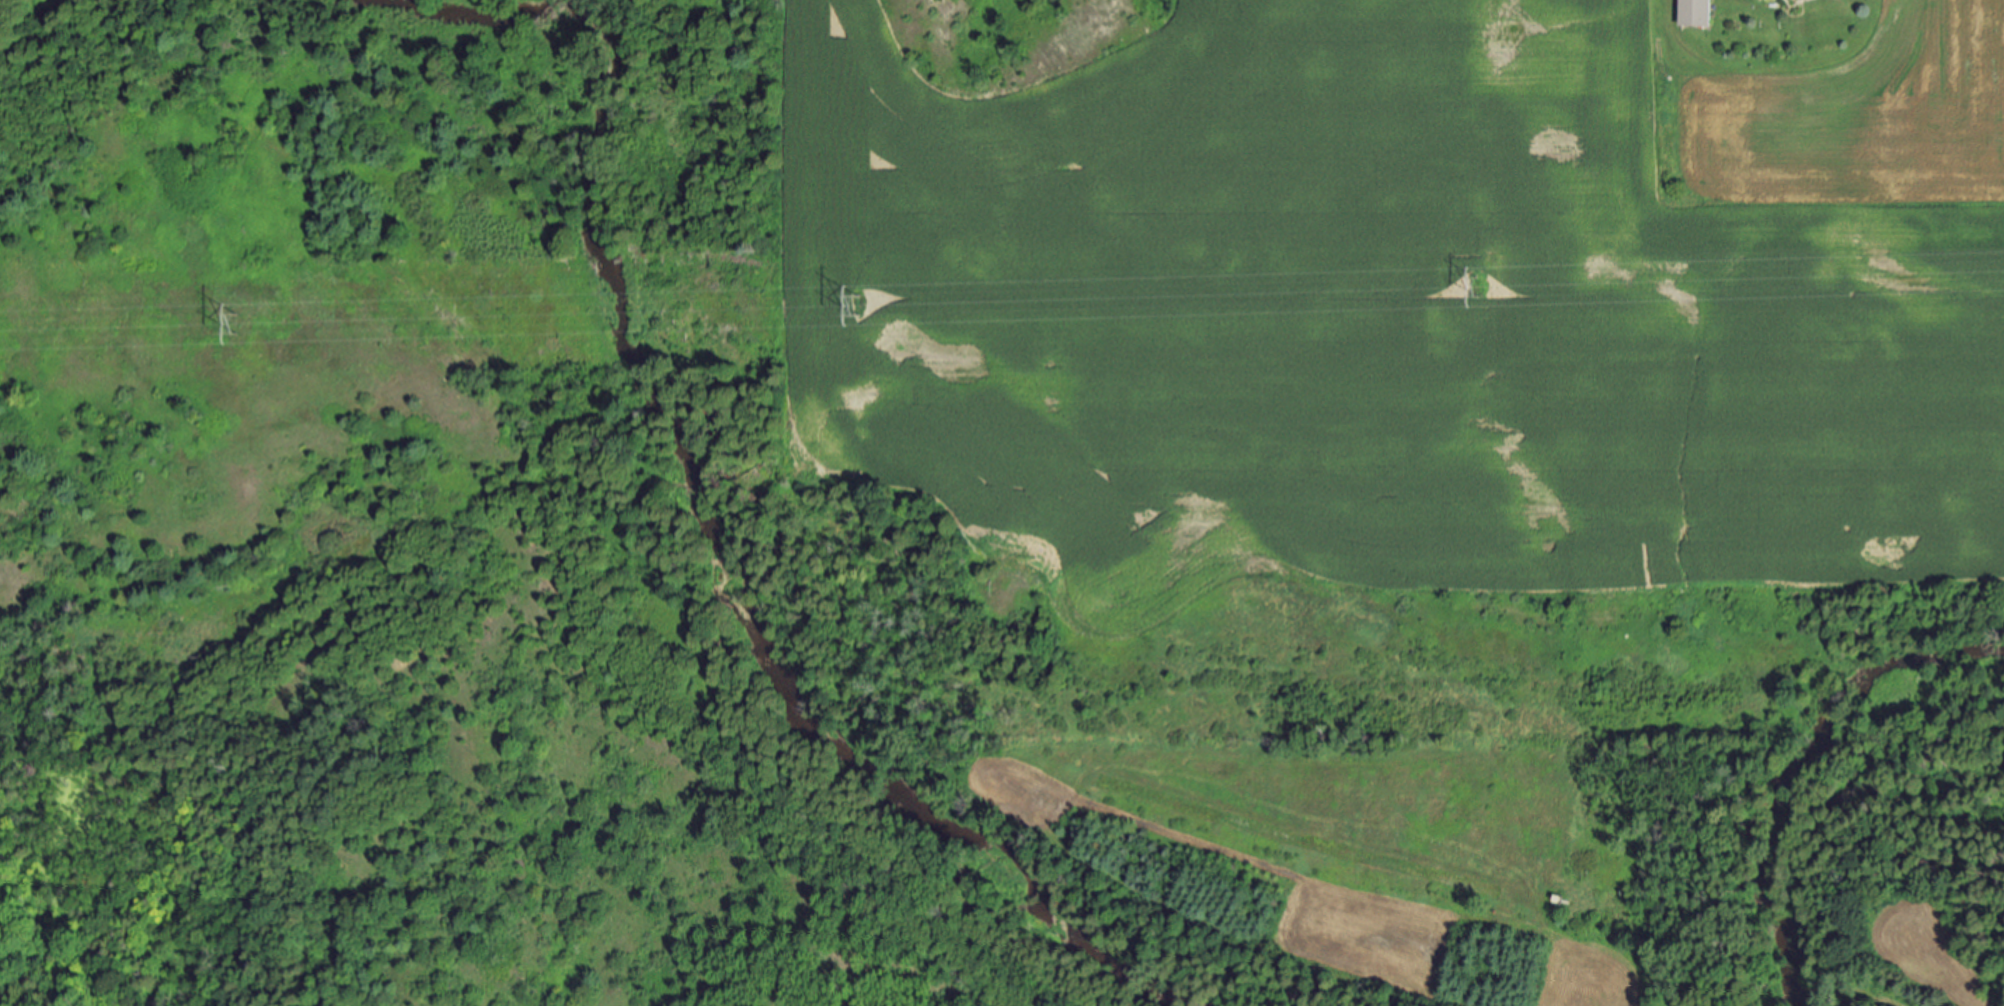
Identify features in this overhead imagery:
building: (1698, 13)
river: (34, 31)
power tower: (1475, 288)
power tower: (857, 307)
power tower: (235, 325)
river: (670, 449)
river: (1789, 767)

